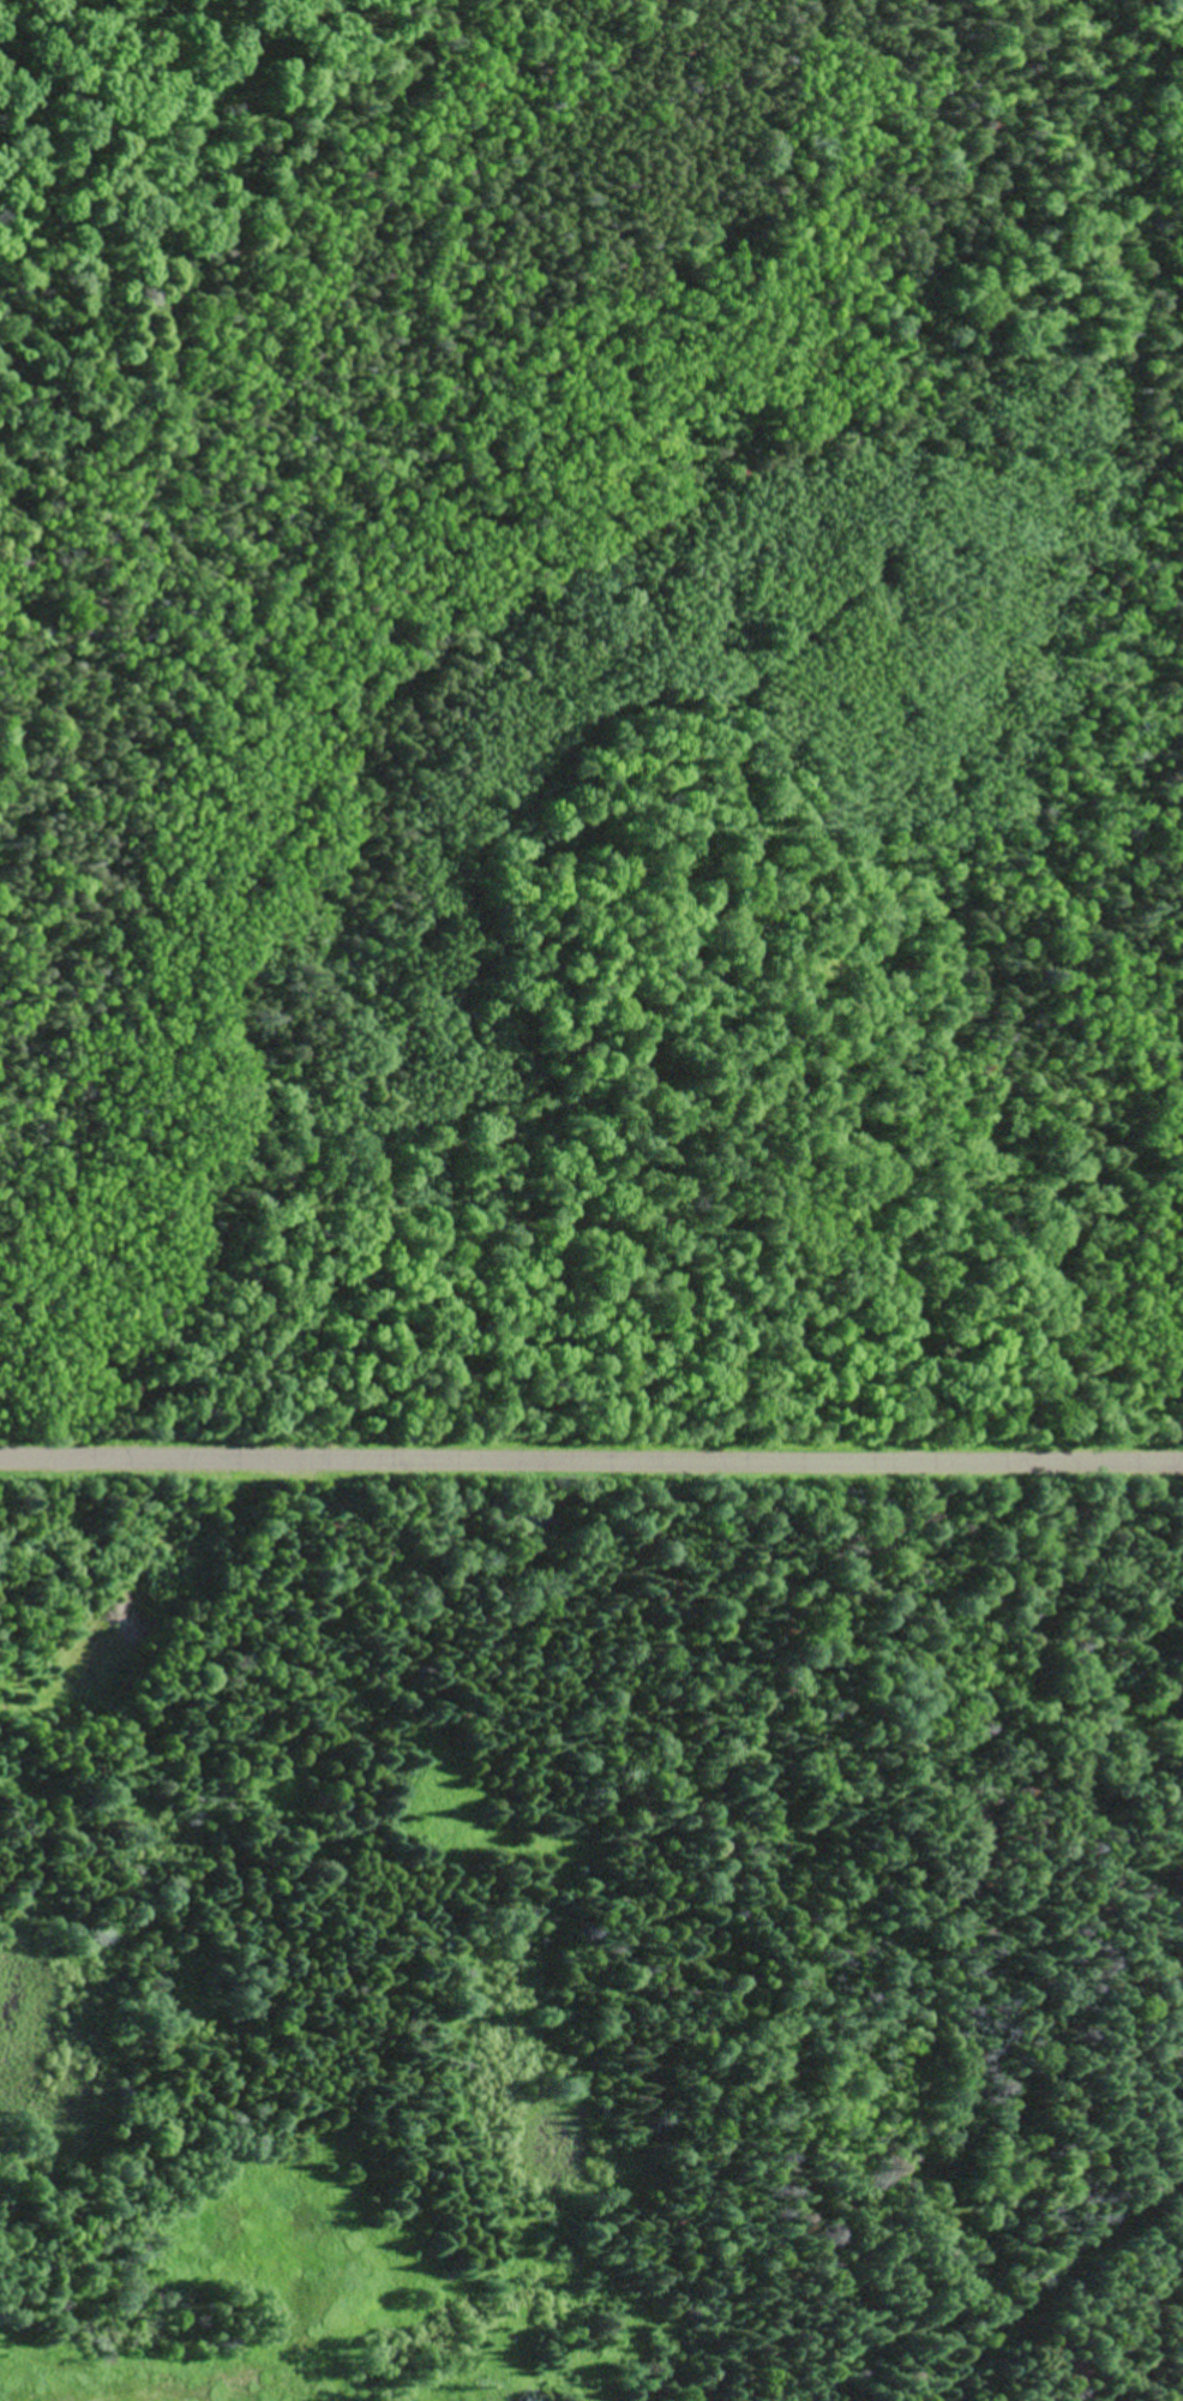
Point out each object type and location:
road: (591, 1451)

